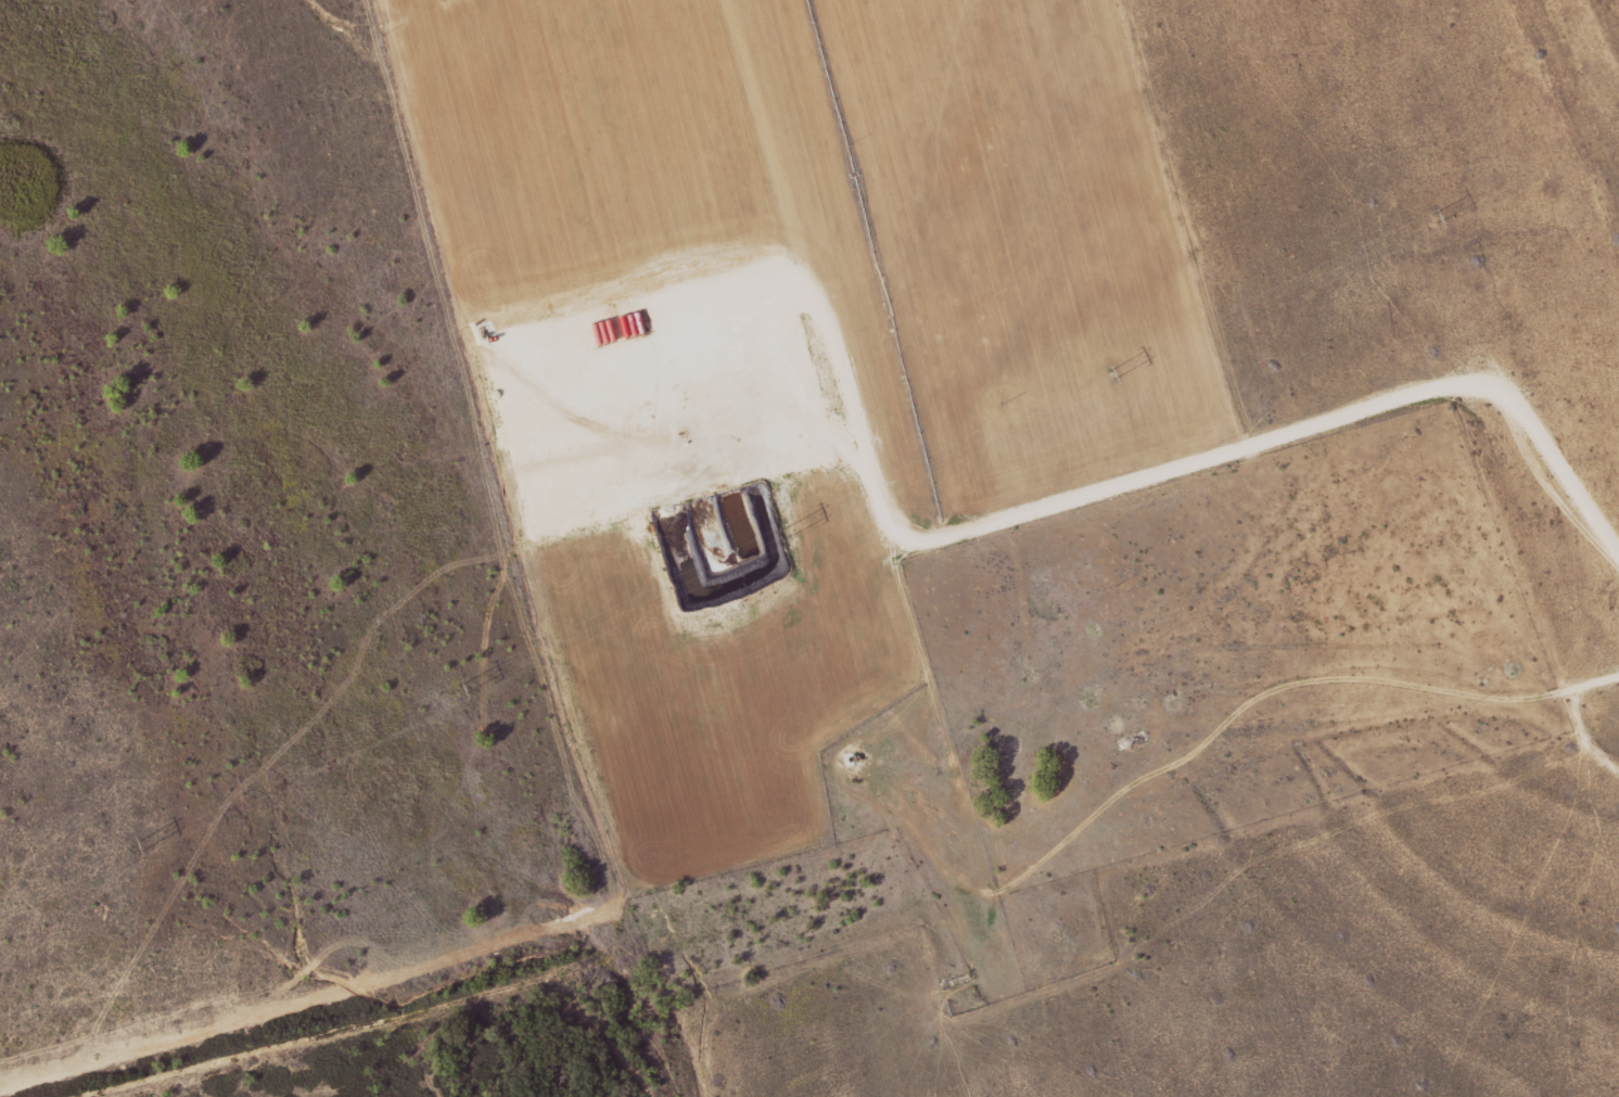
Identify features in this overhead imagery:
power tower: (1436, 217)
road: (820, 234)
power tower: (1113, 374)
road: (1322, 451)
power tower: (788, 531)
power tower: (466, 688)
building: (1134, 740)
power tower: (141, 842)

